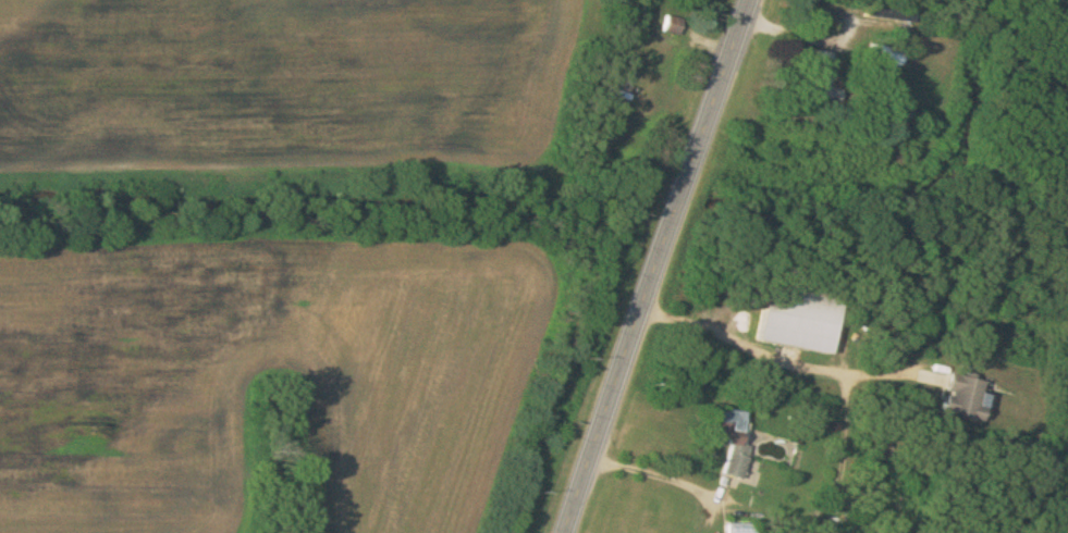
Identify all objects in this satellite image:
building: (893, 12)
building: (675, 24)
building: (885, 54)
building: (825, 76)
building: (909, 115)
road: (656, 264)
building: (799, 317)
road: (777, 357)
building: (970, 397)
building: (733, 437)
road: (690, 486)

